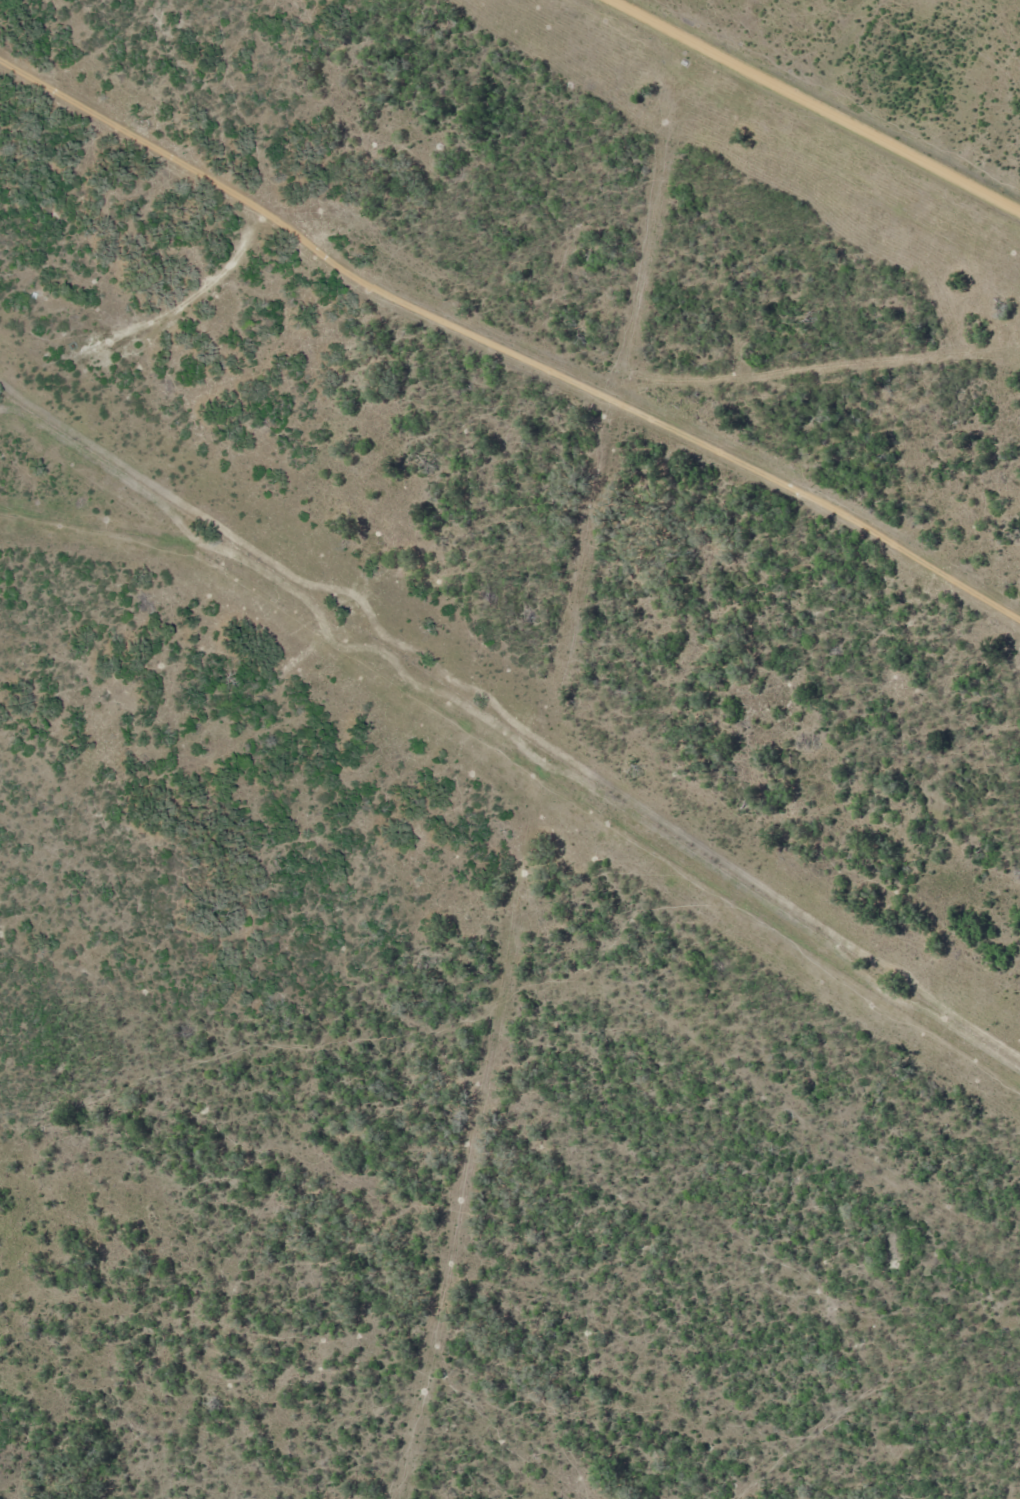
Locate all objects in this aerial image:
road: (809, 106)

